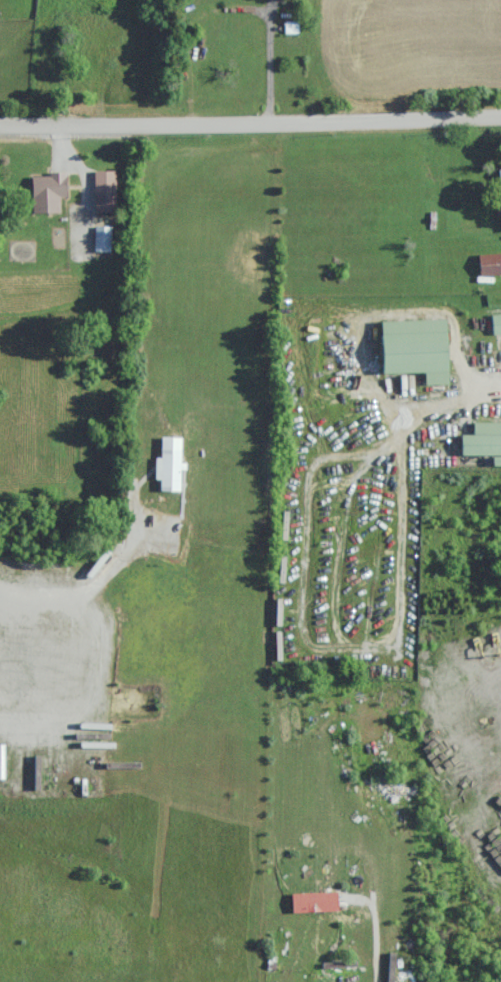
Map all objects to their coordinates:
road: (250, 120)
building: (500, 179)
building: (103, 192)
building: (46, 193)
building: (499, 218)
building: (100, 238)
building: (489, 265)
building: (495, 324)
building: (414, 349)
building: (482, 441)
building: (144, 488)
building: (291, 939)

